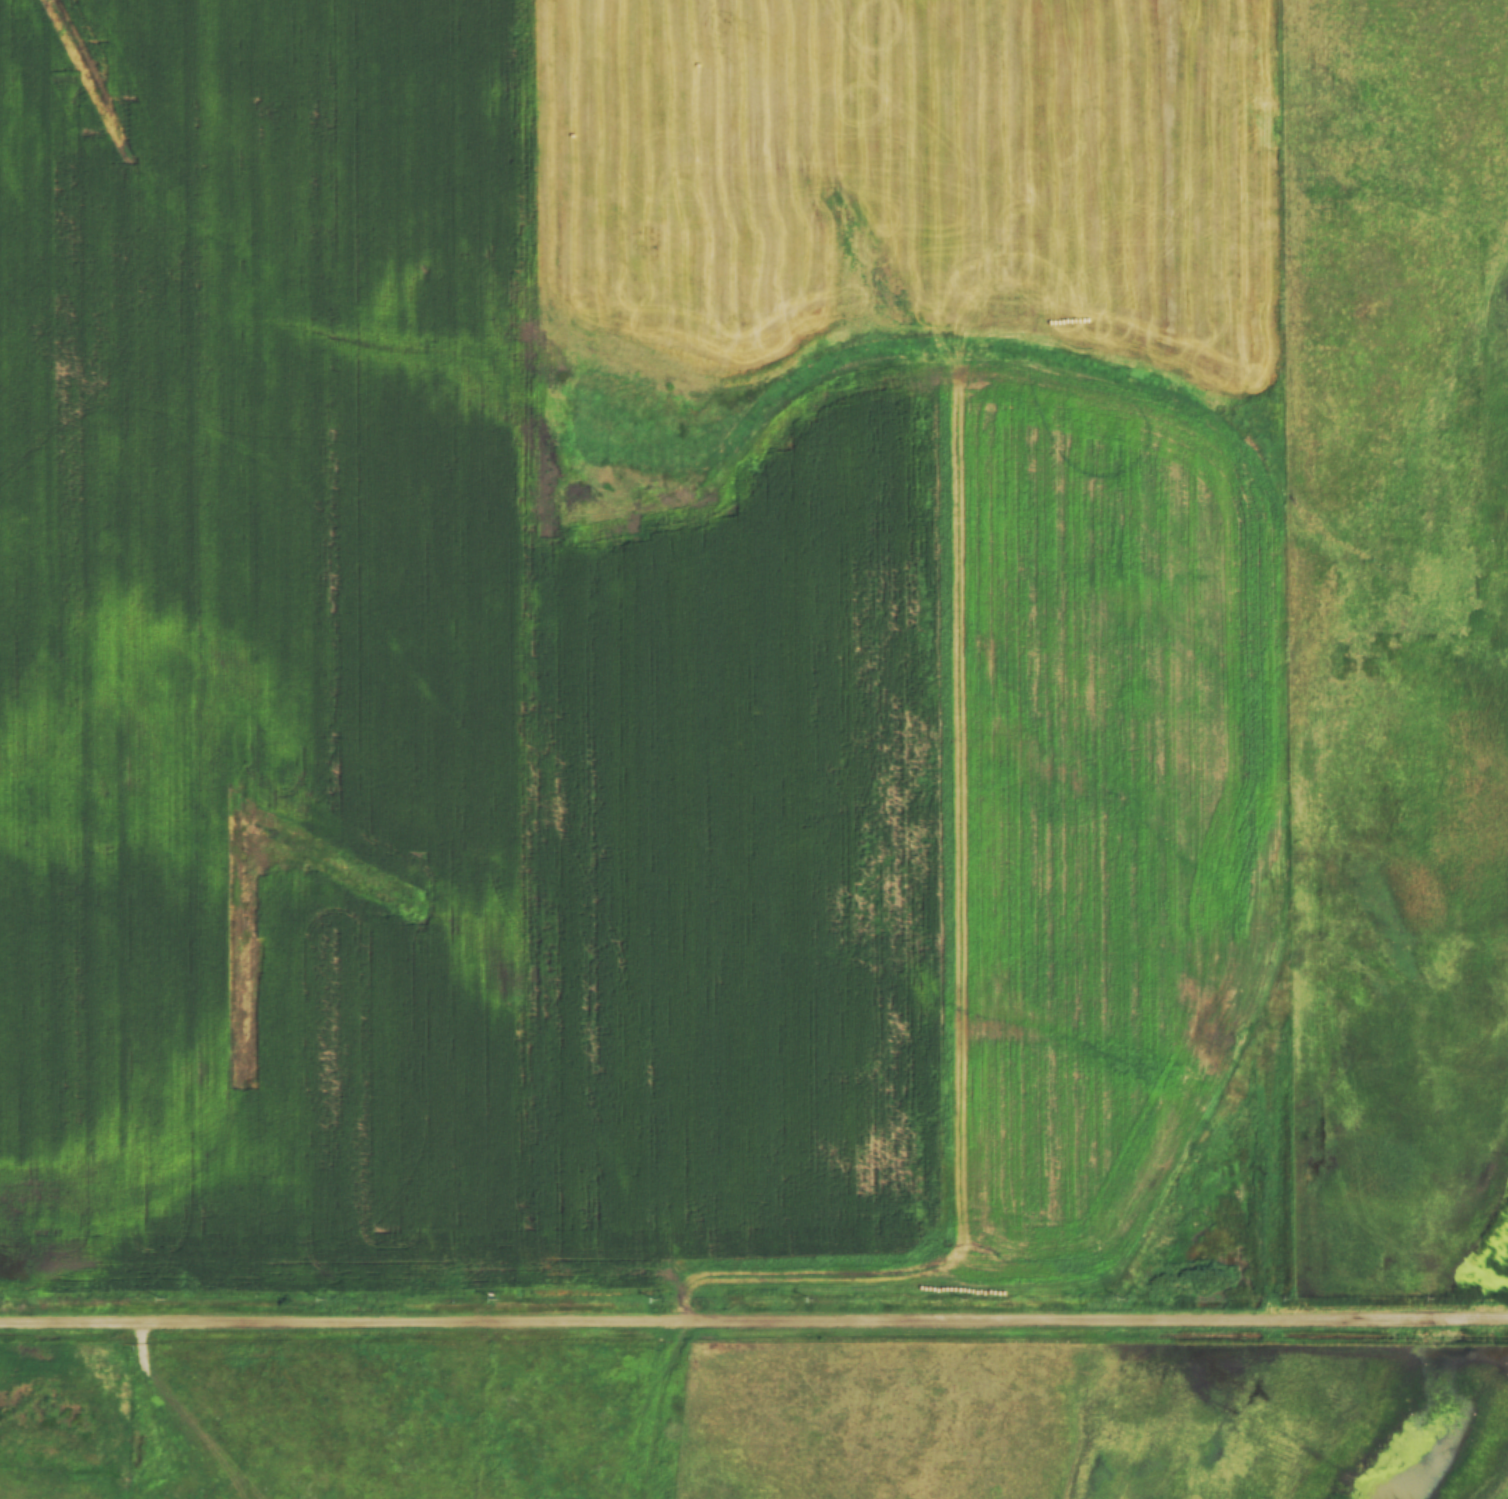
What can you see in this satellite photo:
road: (753, 1322)
road: (167, 1417)
road: (127, 1431)

